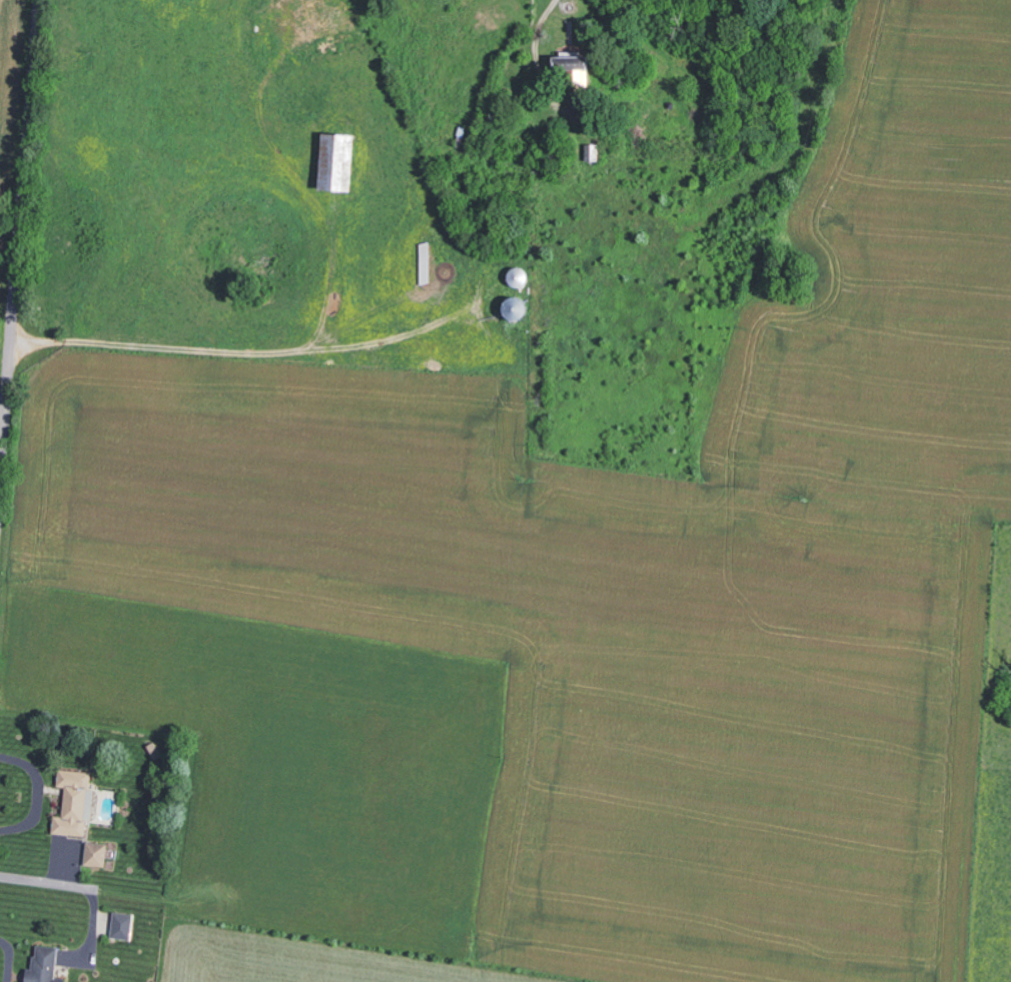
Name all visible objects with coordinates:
building: (575, 62)
building: (340, 160)
road: (20, 256)
building: (76, 802)
building: (96, 854)
road: (45, 881)
building: (124, 925)
building: (46, 965)

